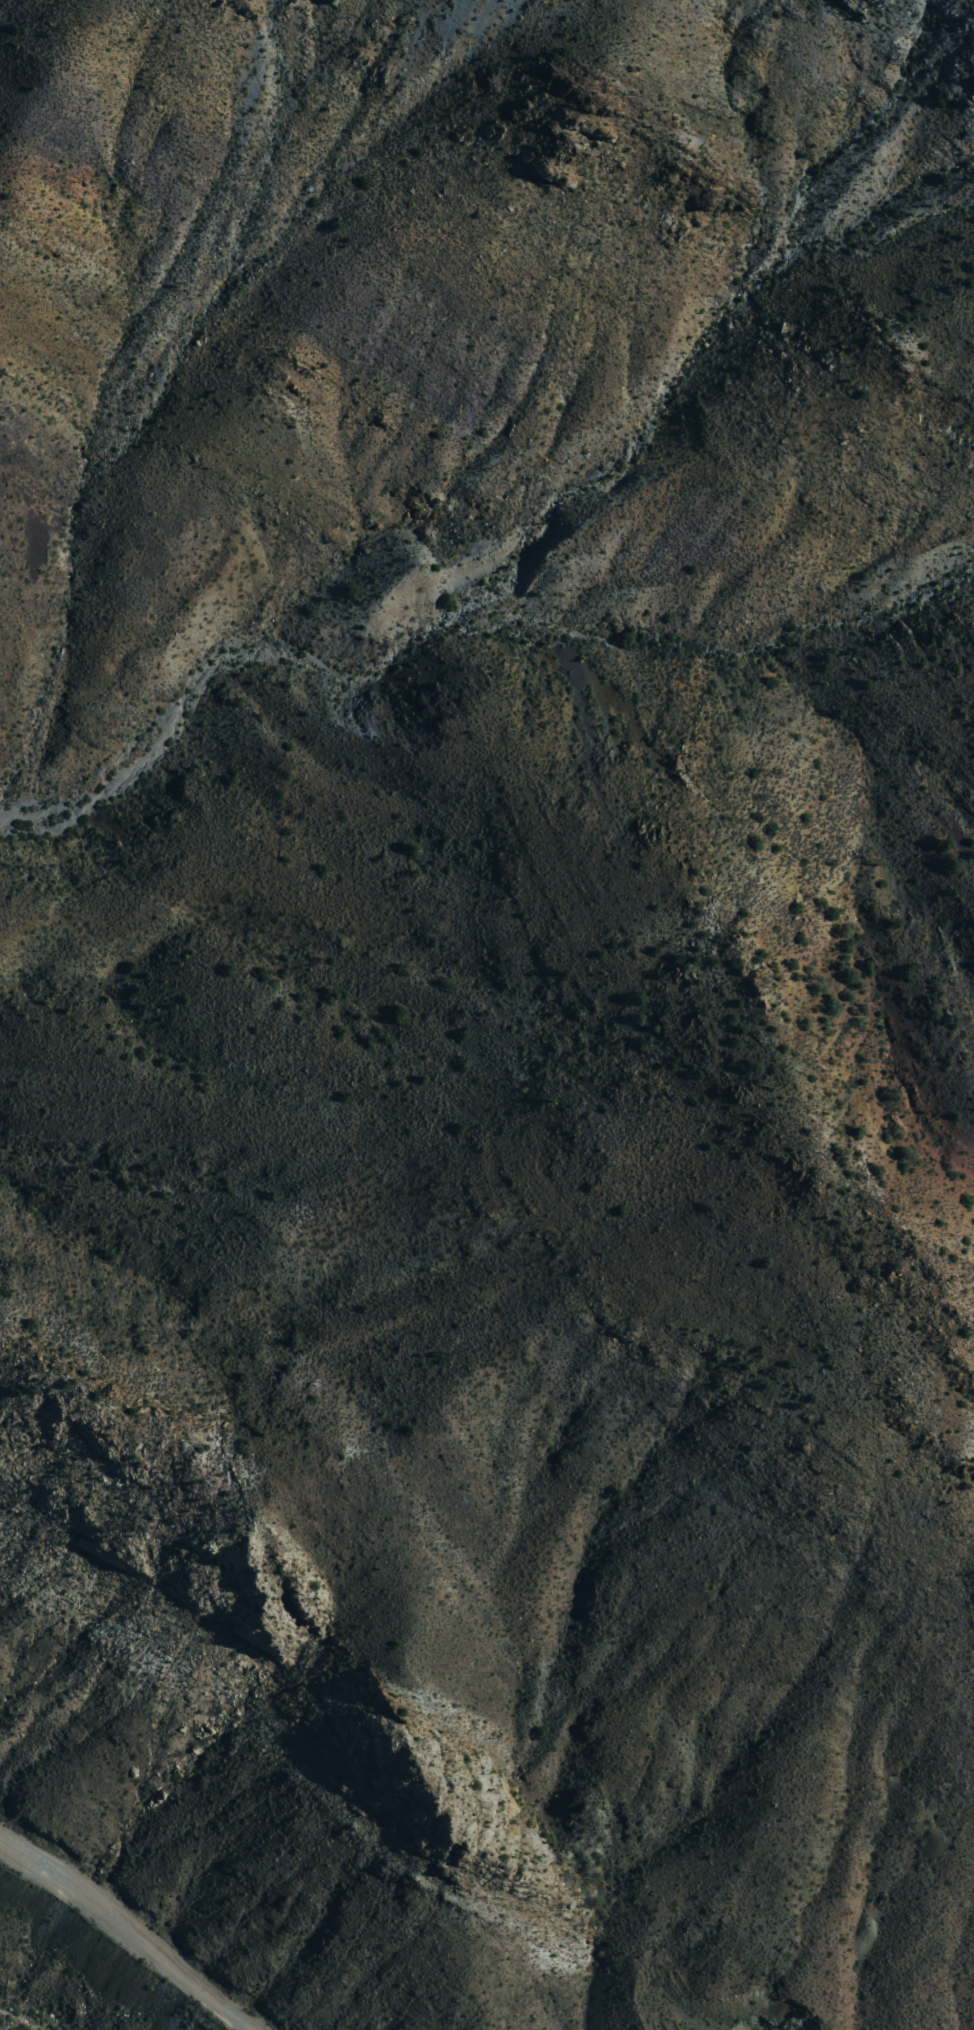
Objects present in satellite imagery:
quarry: (707, 1964)

